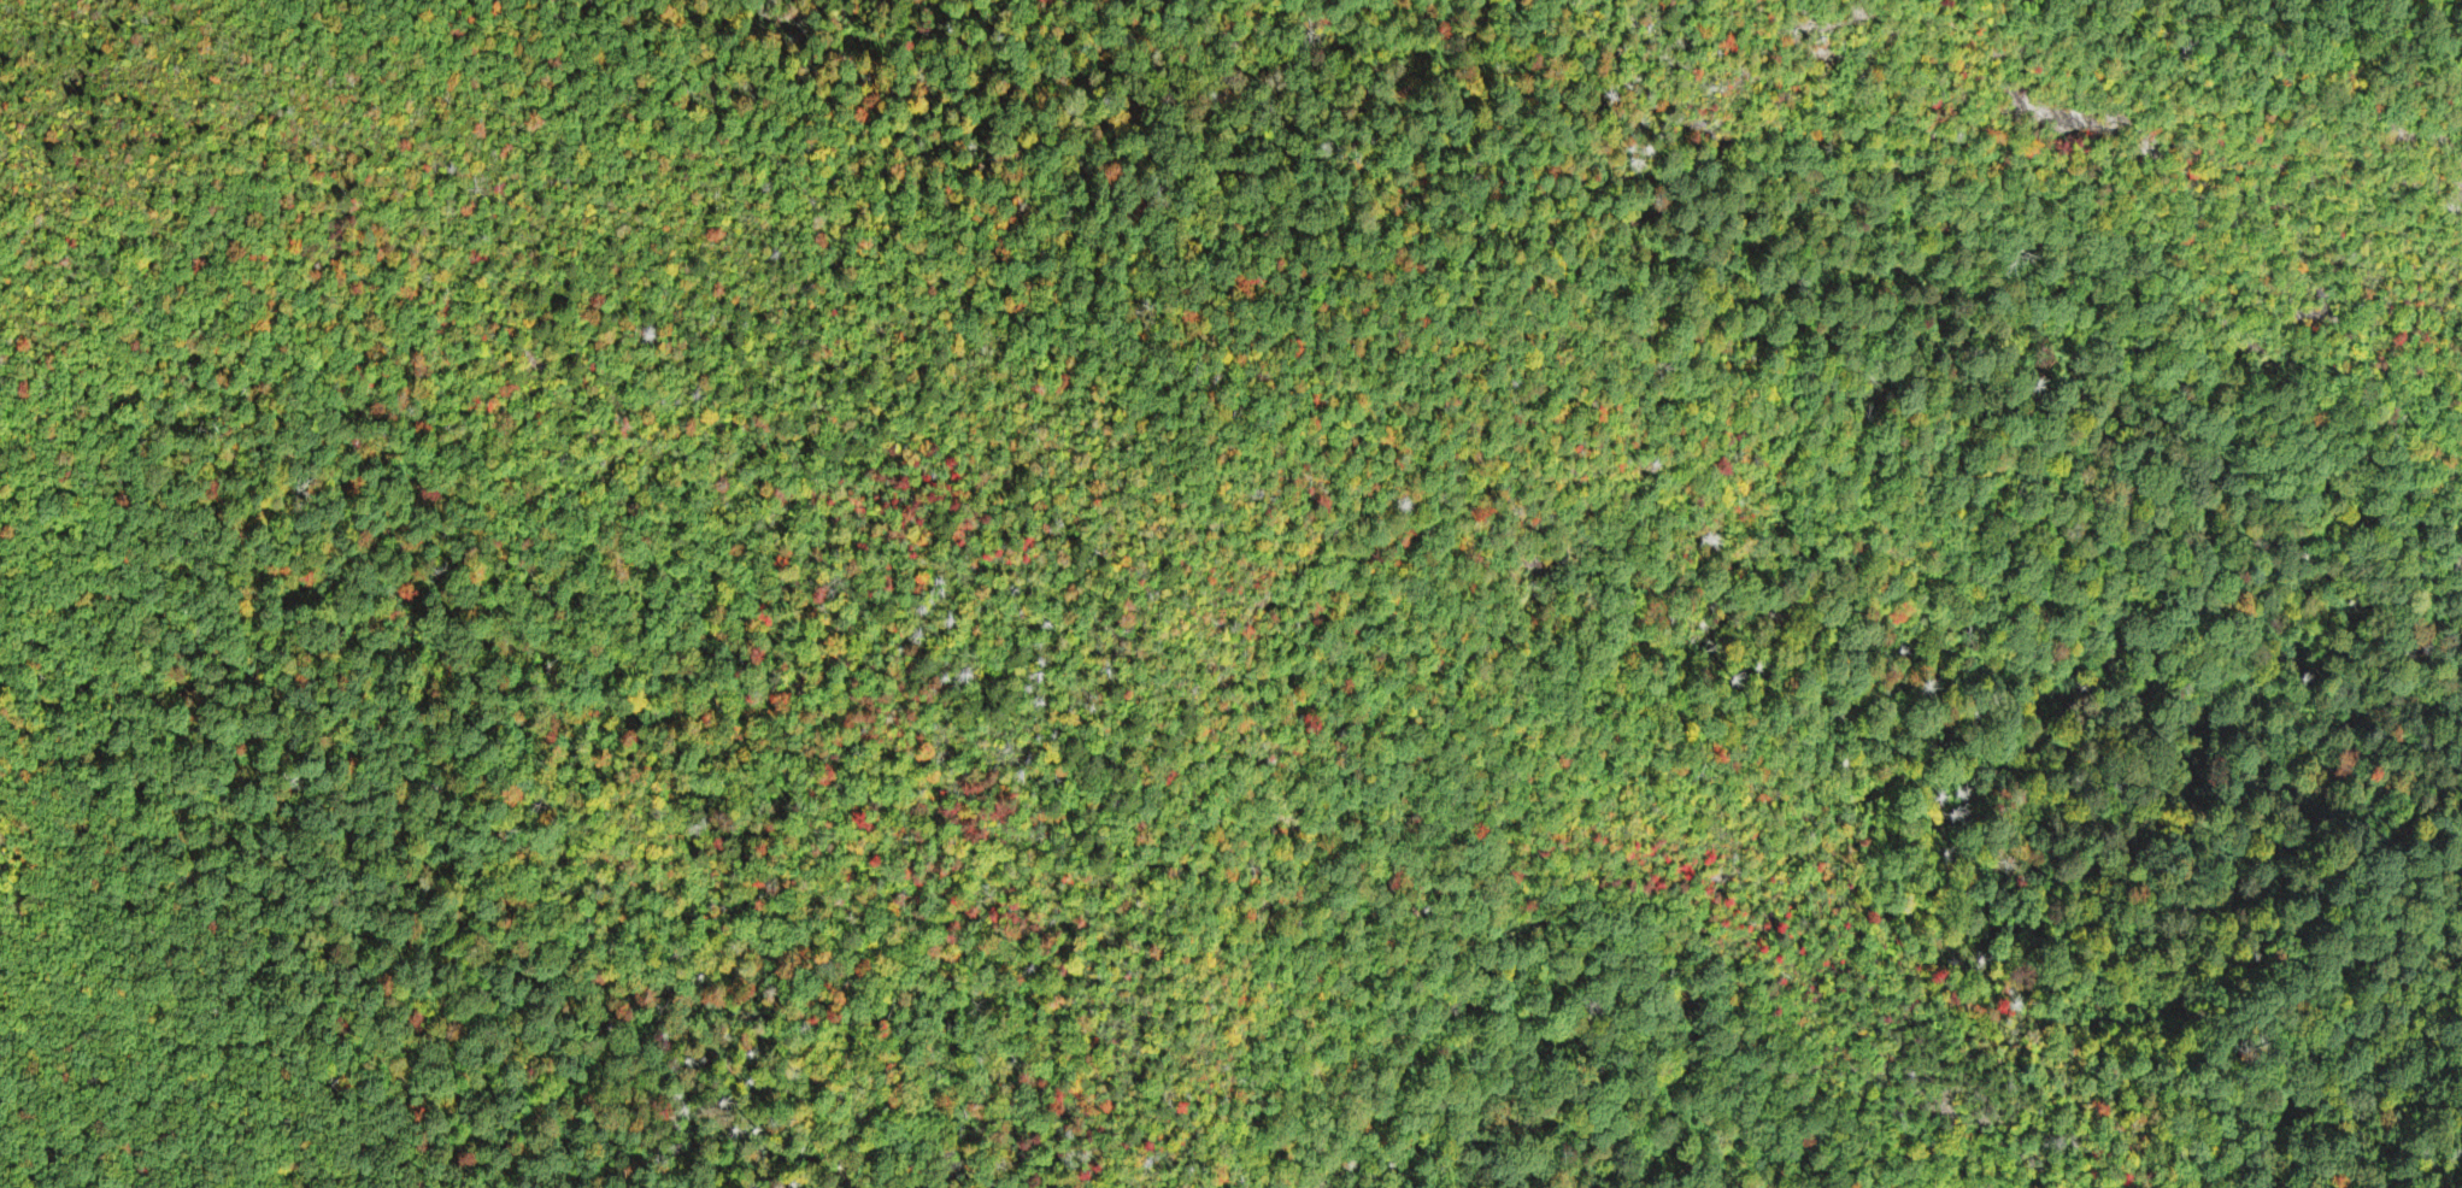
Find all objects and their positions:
road: (1280, 648)
road: (2081, 1137)

